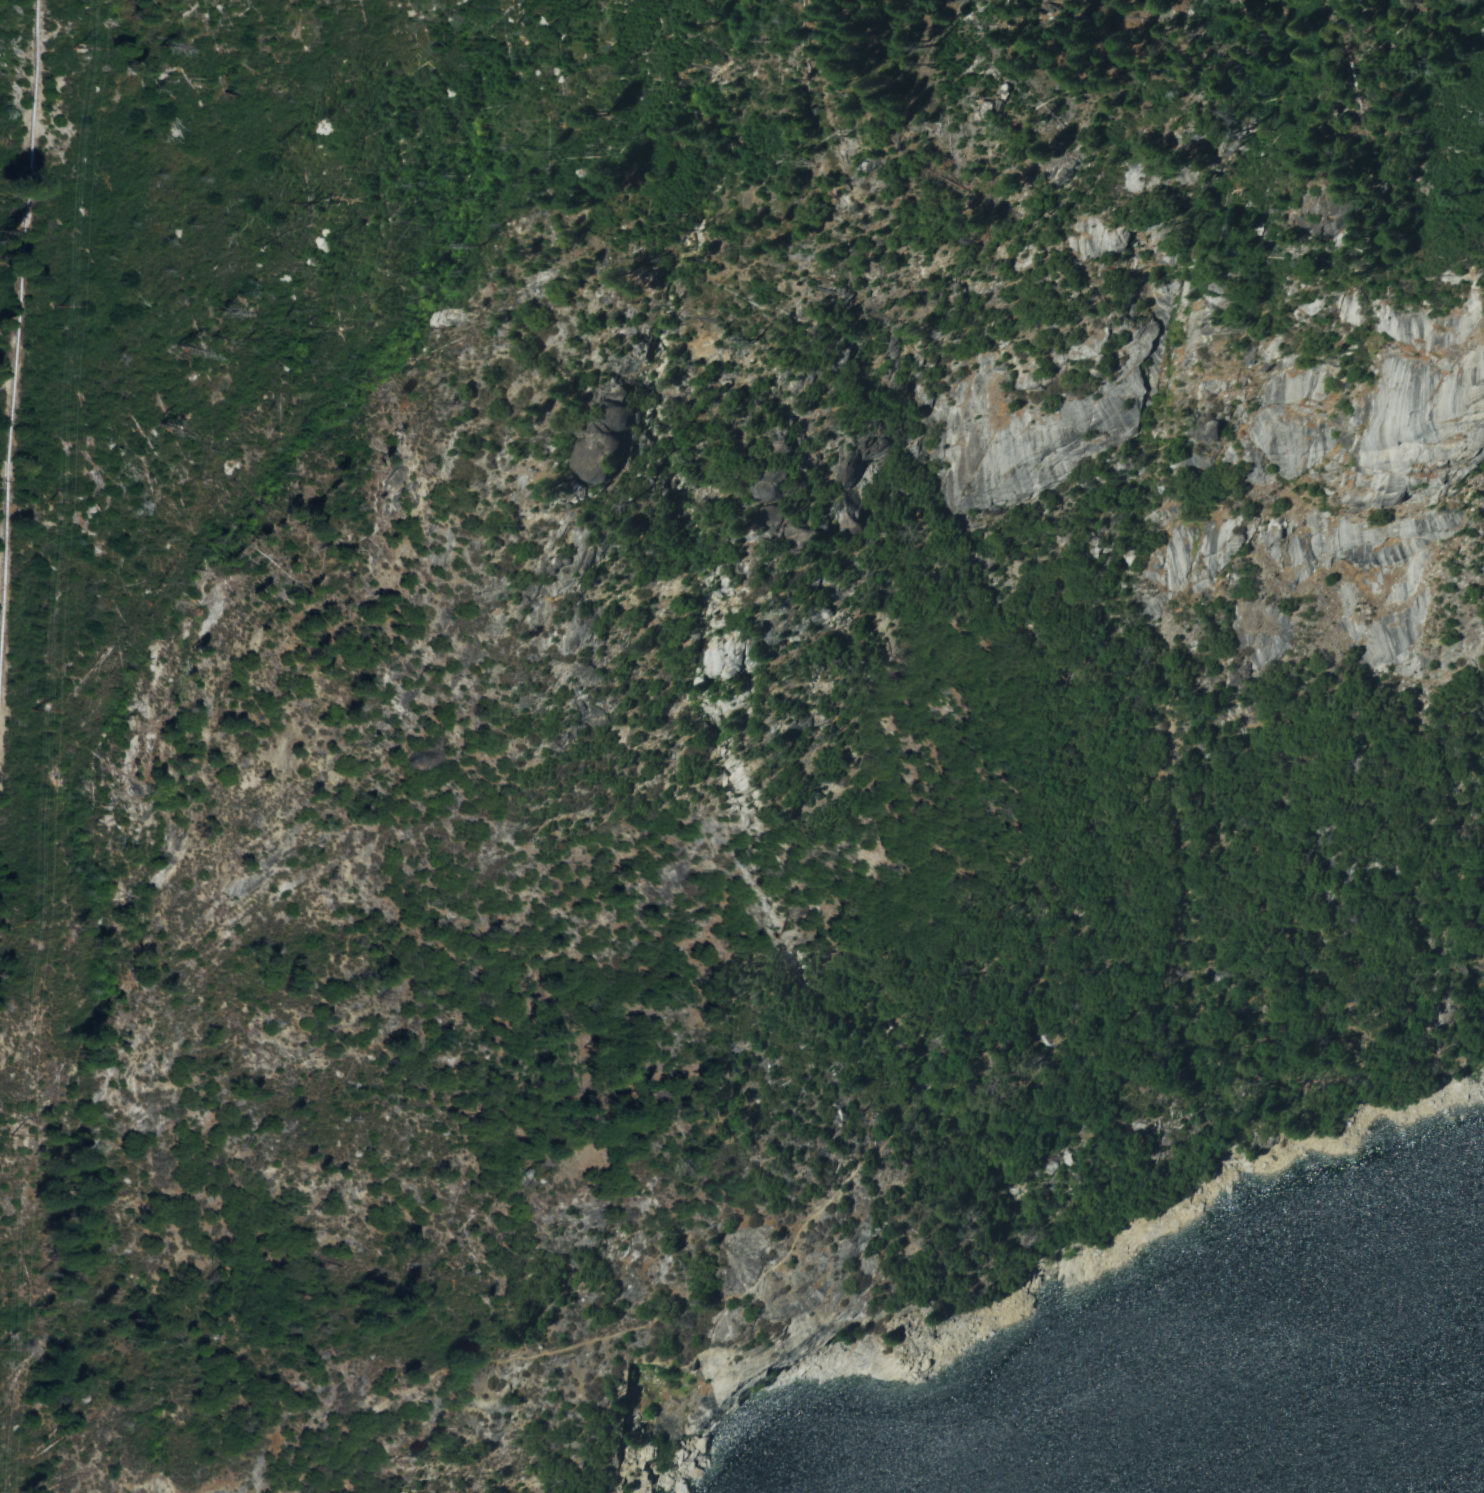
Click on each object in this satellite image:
power tower: (65, 46)
power tower: (45, 306)
power tower: (42, 502)
power tower: (30, 710)
power tower: (9, 923)
power tower: (10, 1136)
road: (864, 1186)

